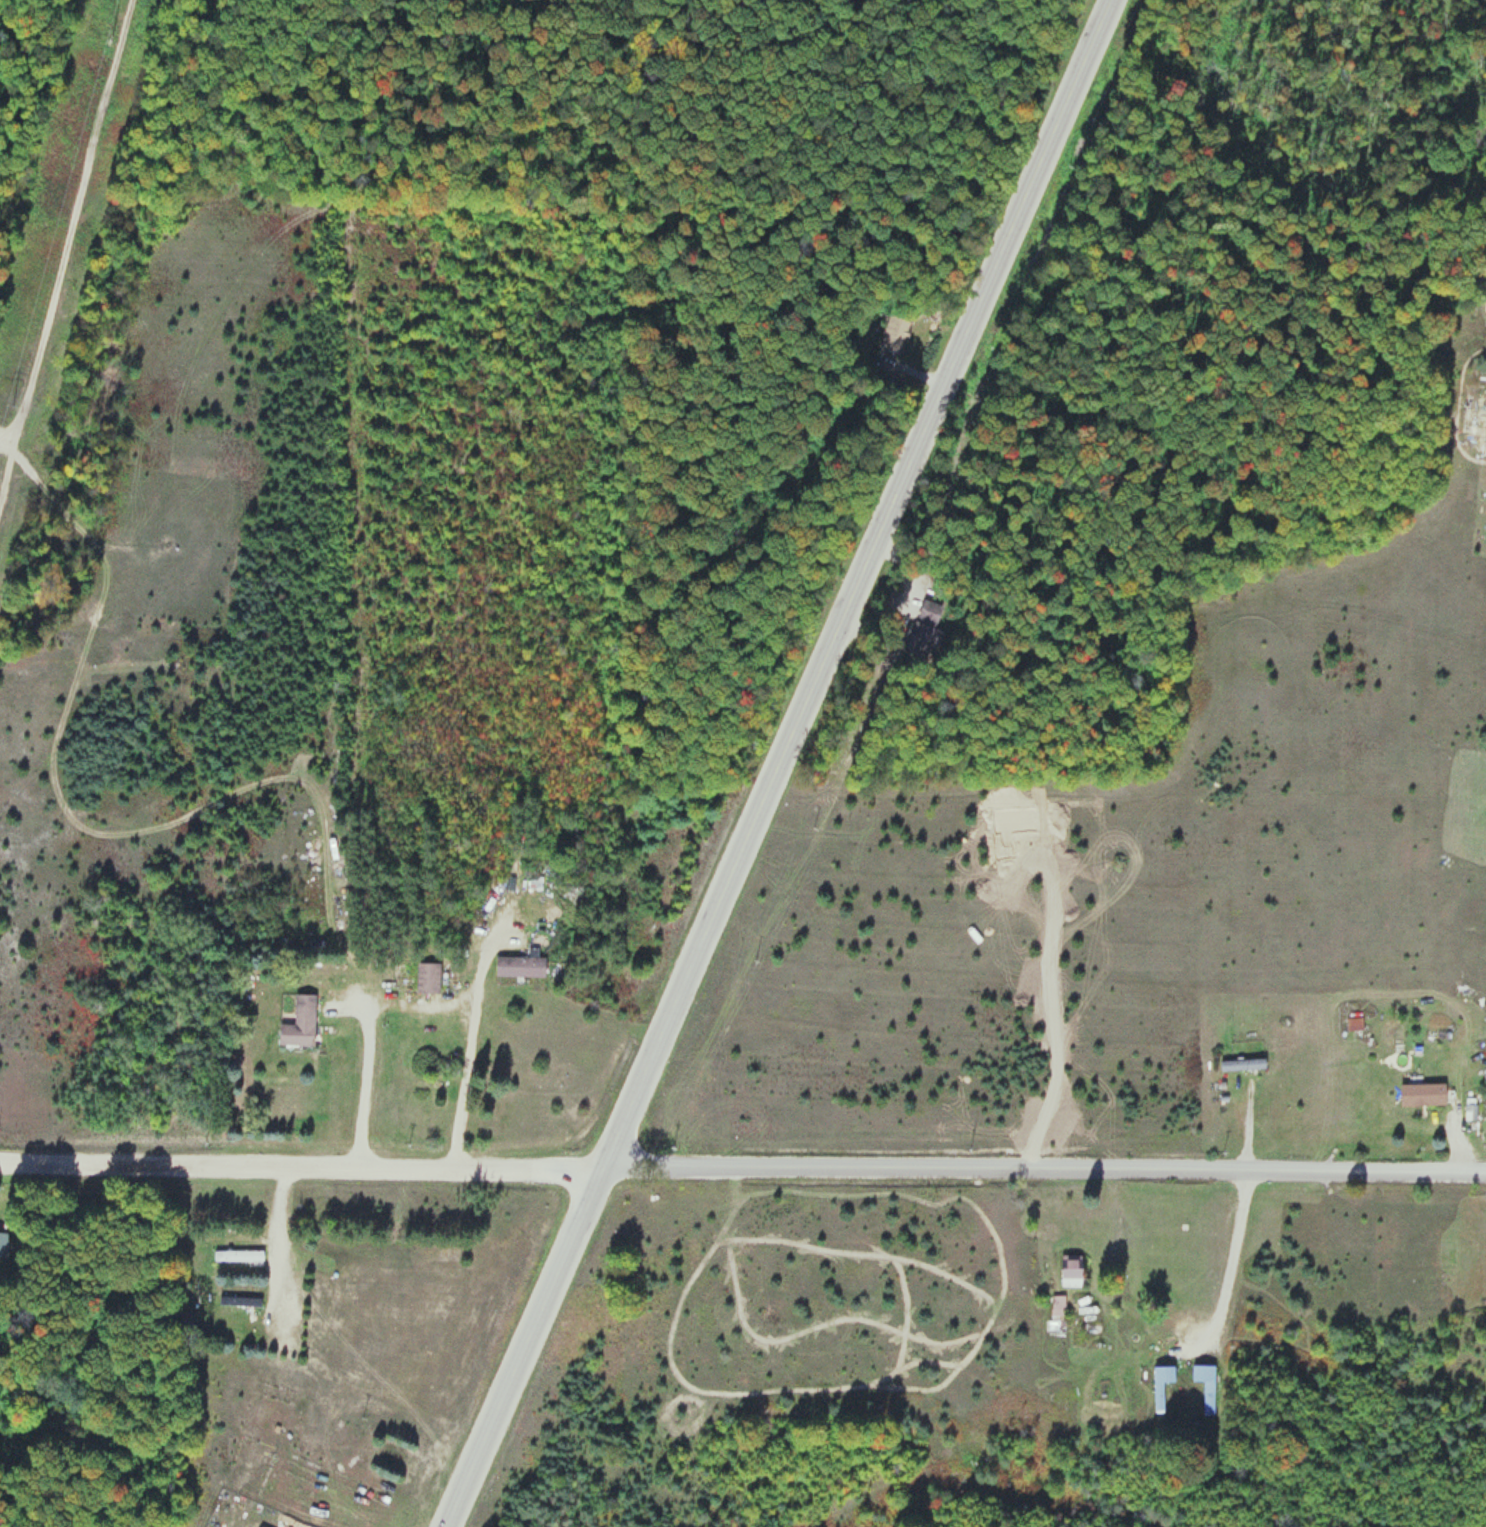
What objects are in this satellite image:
building: (1485, 301)
building: (894, 334)
building: (924, 630)
road: (776, 762)
building: (520, 966)
building: (428, 978)
building: (300, 1023)
building: (1354, 1023)
building: (1242, 1064)
building: (1422, 1094)
road: (743, 1169)
building: (4, 1242)
building: (238, 1255)
building: (1072, 1270)
building: (240, 1300)
building: (1057, 1313)
building: (1161, 1385)
building: (1206, 1385)
building: (393, 1456)

